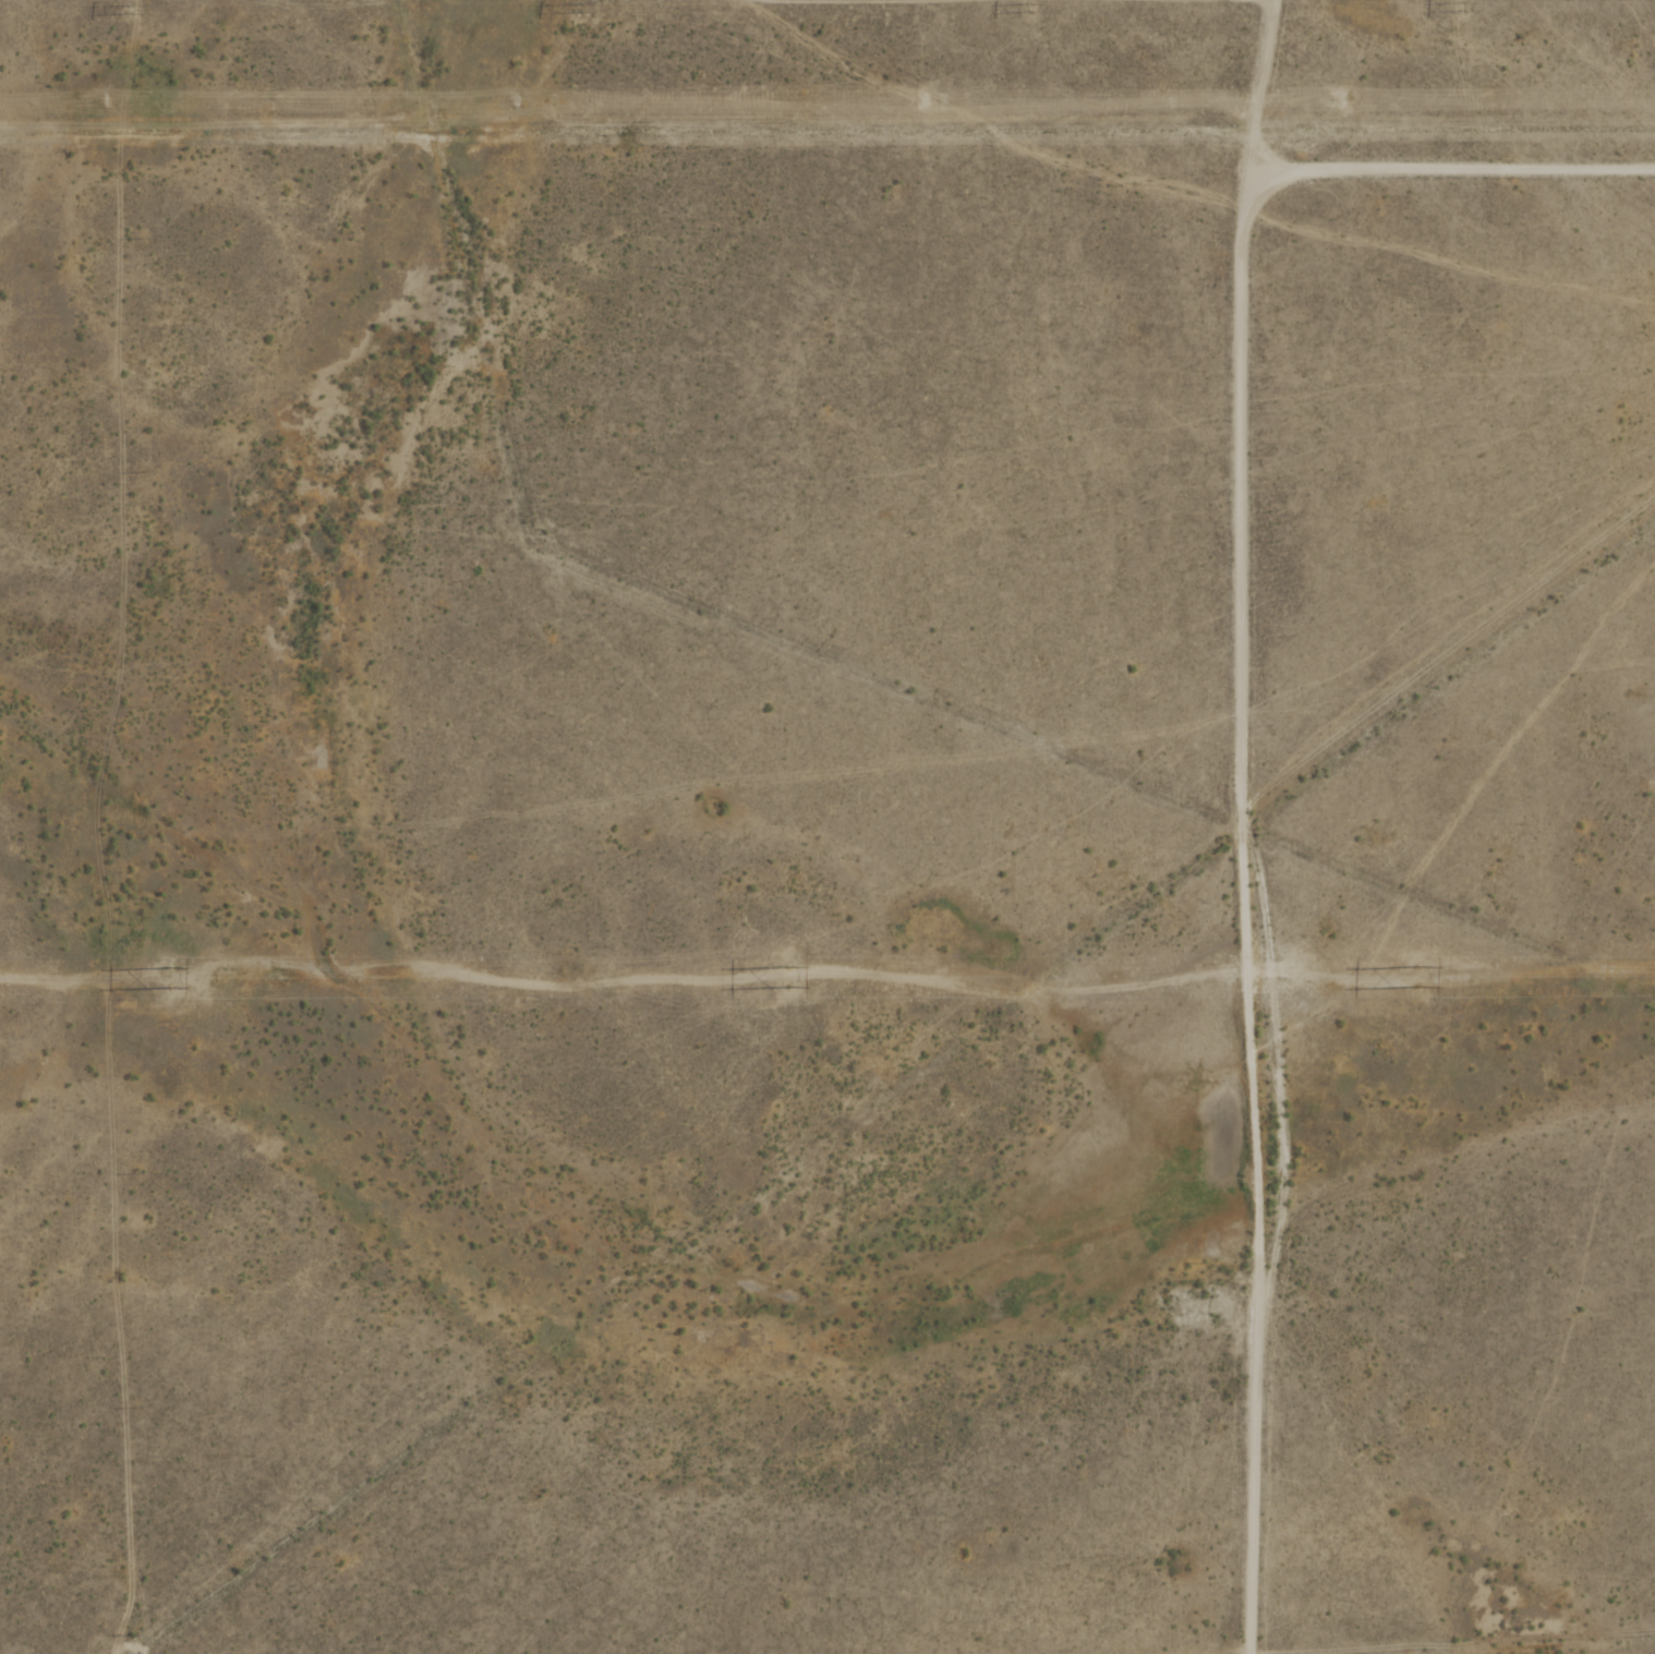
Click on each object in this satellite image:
power tower: (1460, 7)
power tower: (1029, 8)
power tower: (578, 10)
power tower: (137, 12)
power tower: (1345, 102)
power tower: (113, 105)
power tower: (523, 105)
power tower: (935, 105)
road: (1232, 825)
power tower: (164, 971)
power tower: (783, 976)
power tower: (1411, 976)

